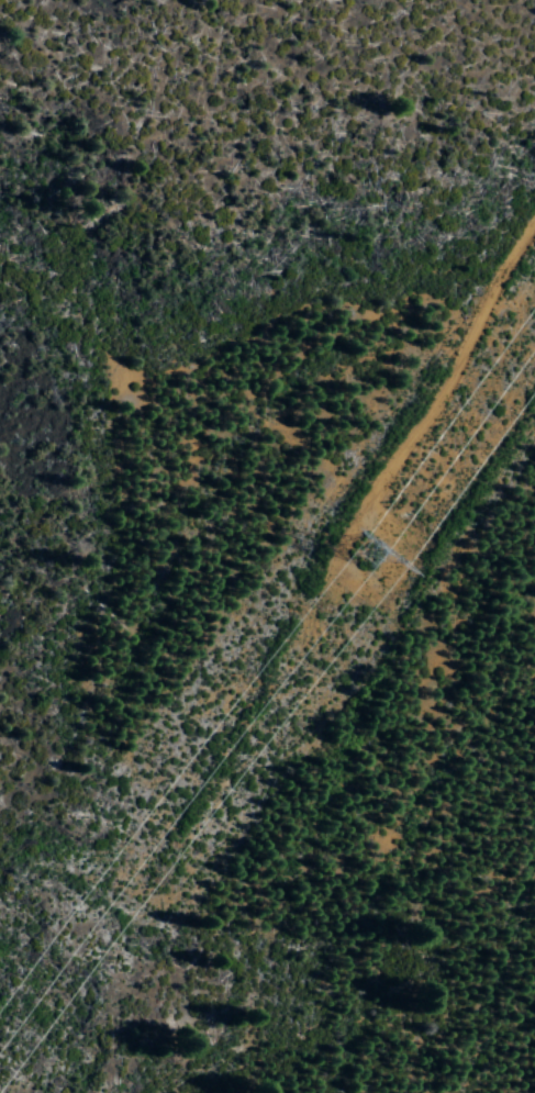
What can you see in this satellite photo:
power tower: (384, 549)

